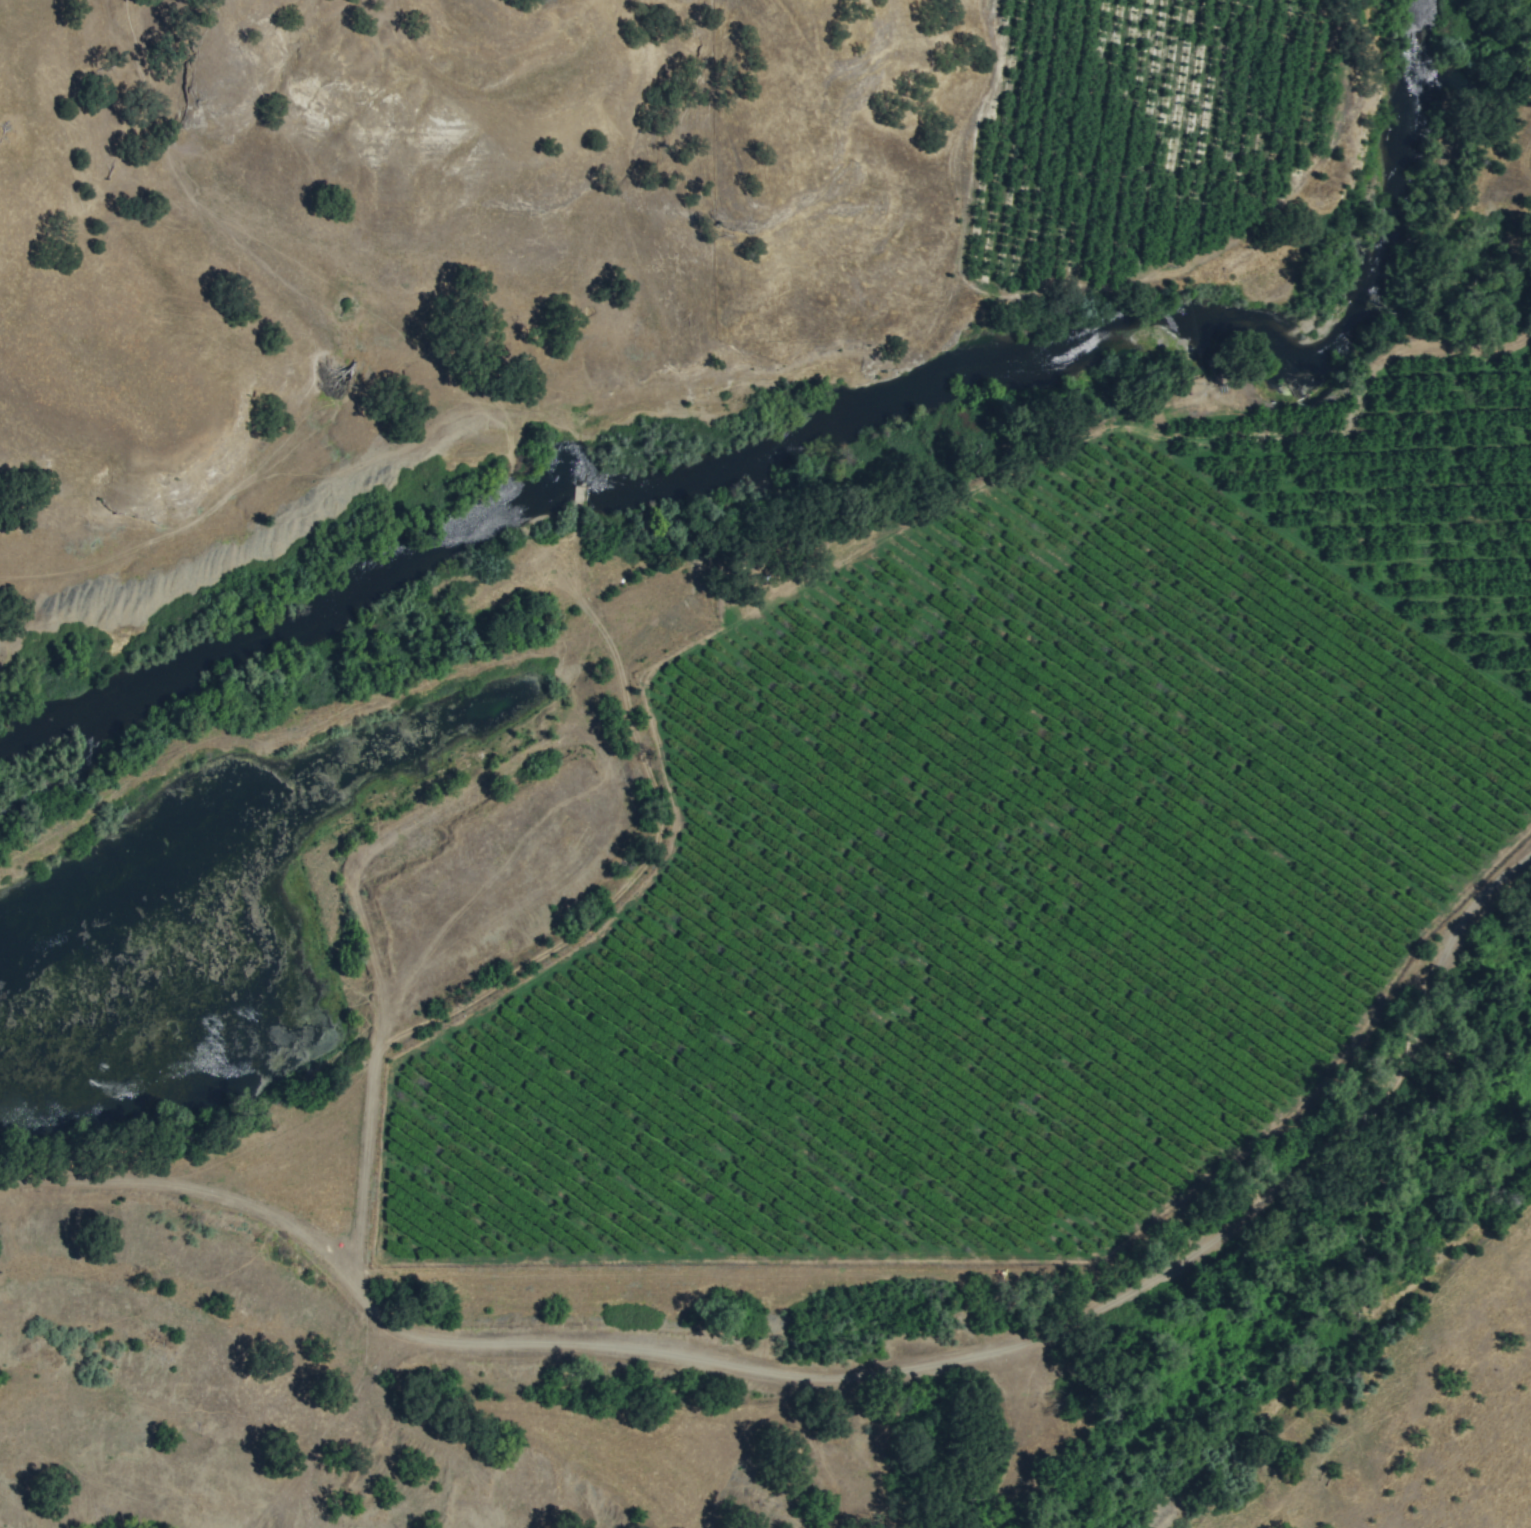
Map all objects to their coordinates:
river: (1126, 338)
river: (289, 615)
crop: (1056, 733)

